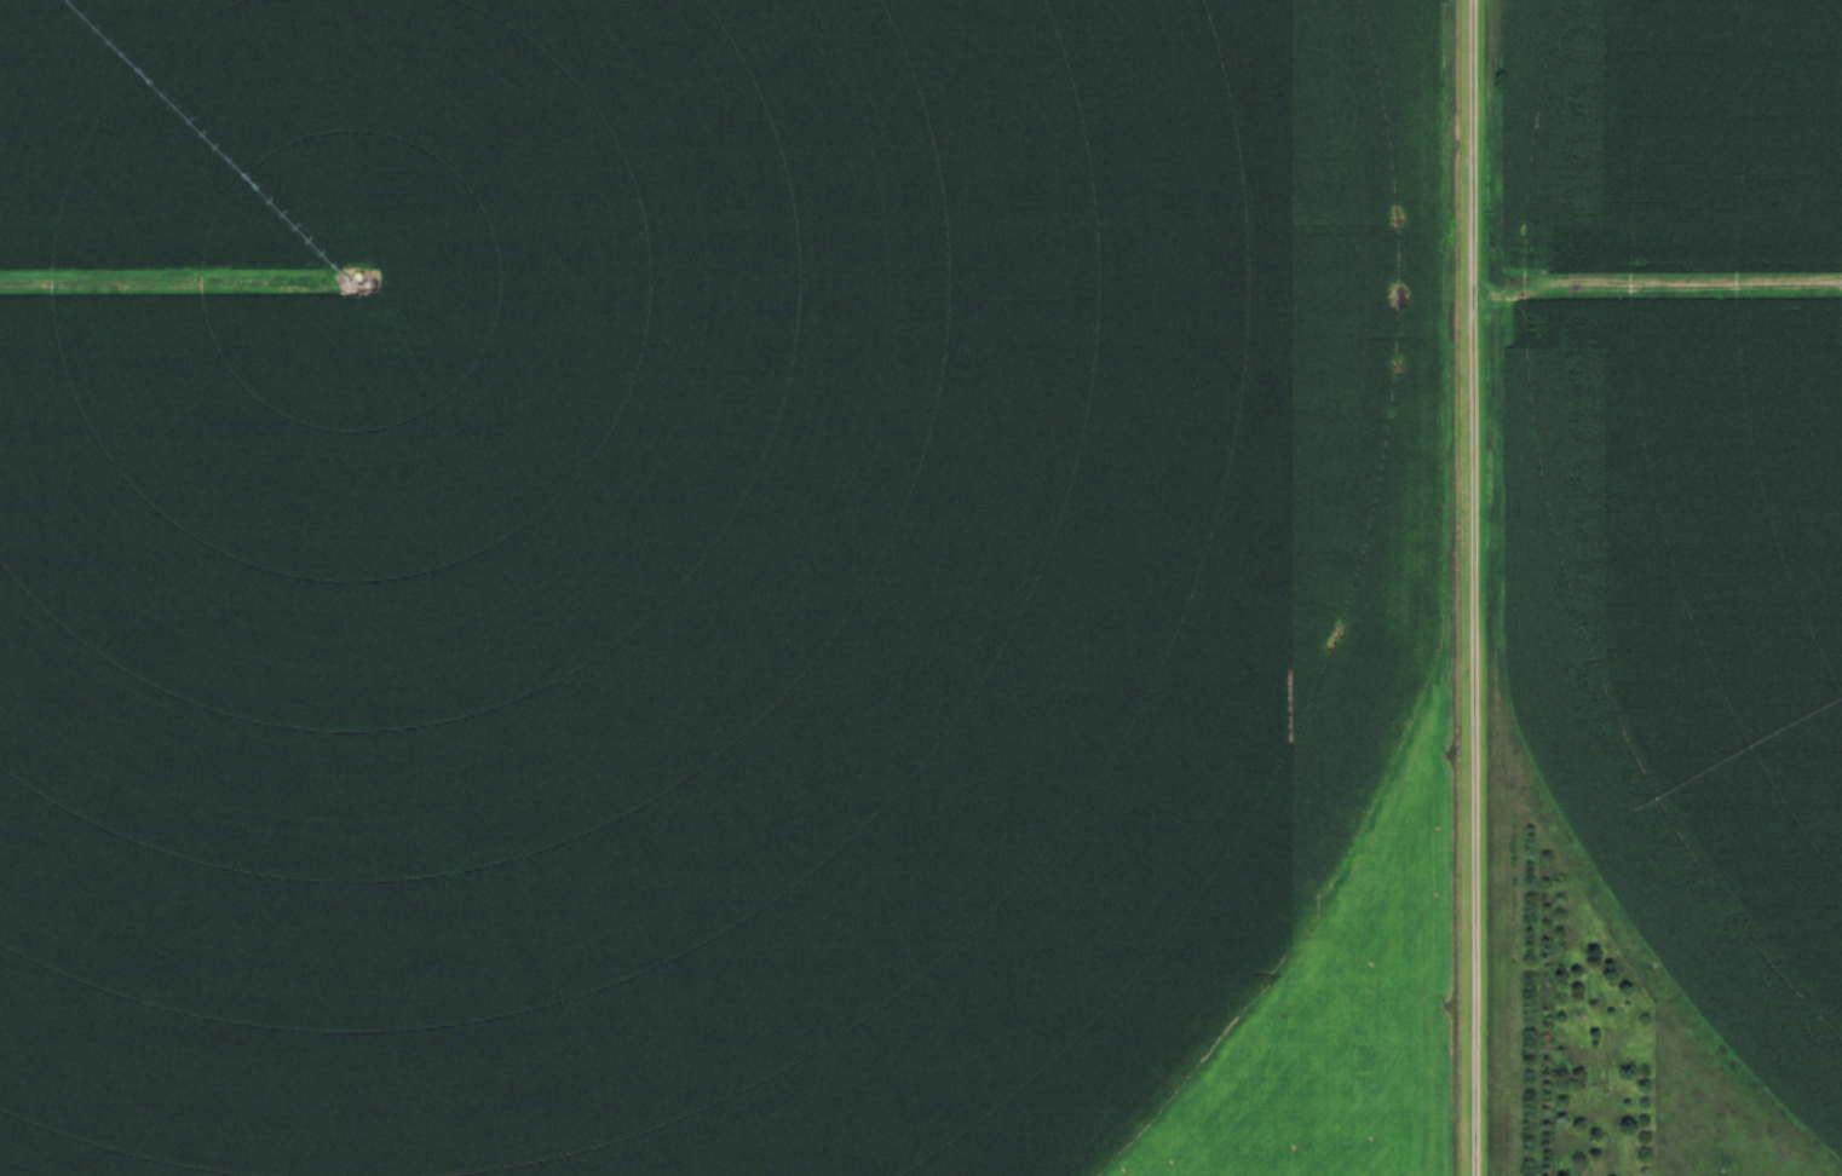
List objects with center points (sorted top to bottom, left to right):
road: (1472, 587)

